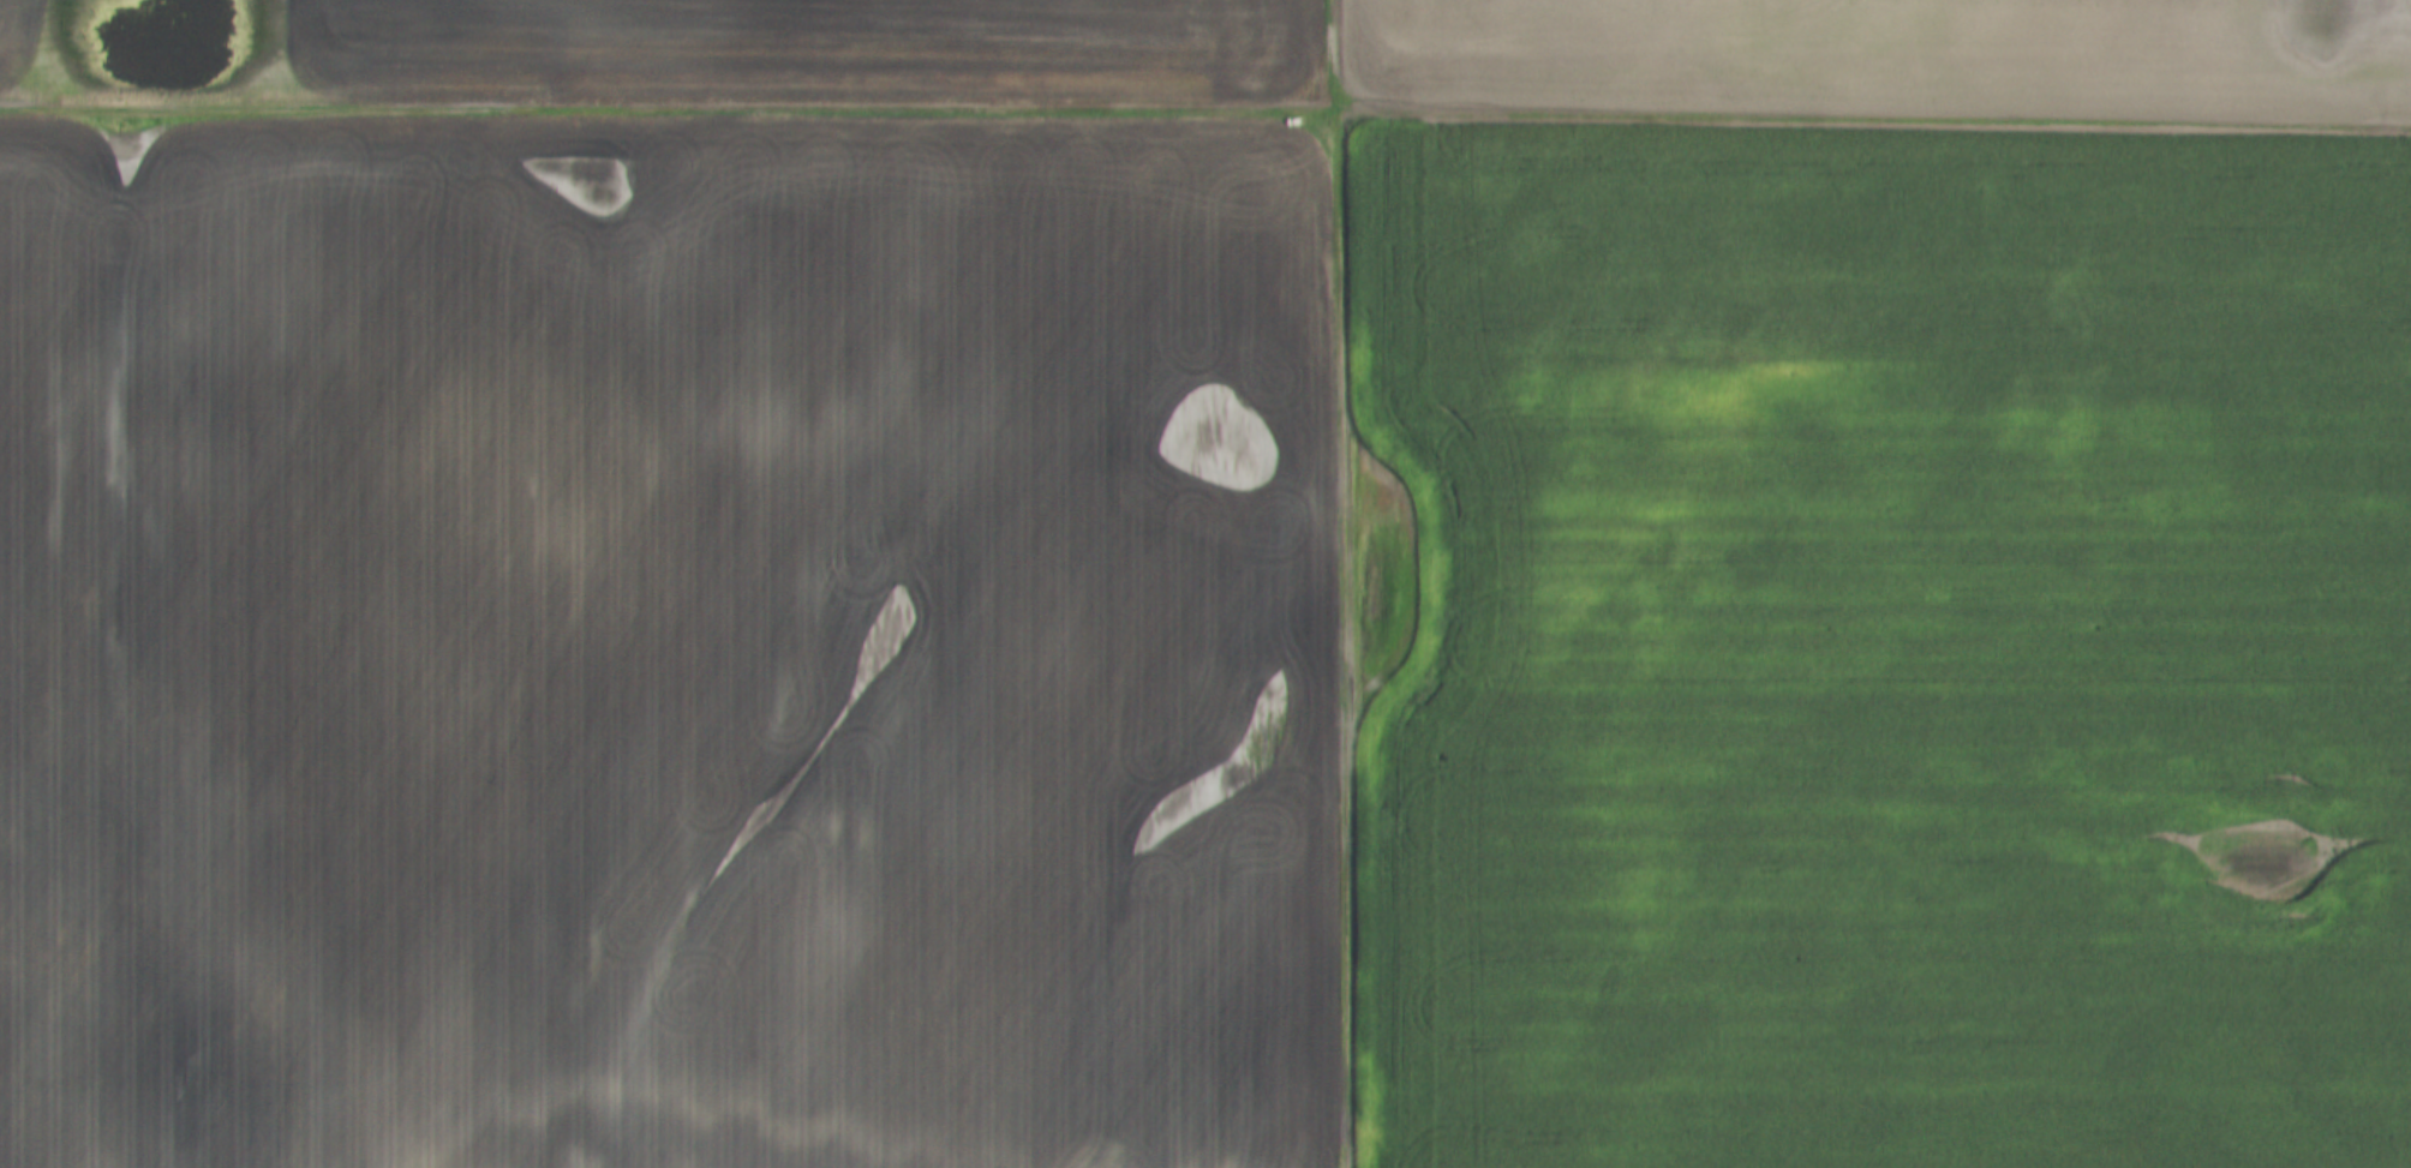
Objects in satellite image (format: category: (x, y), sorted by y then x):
road: (1205, 114)
road: (1357, 583)

